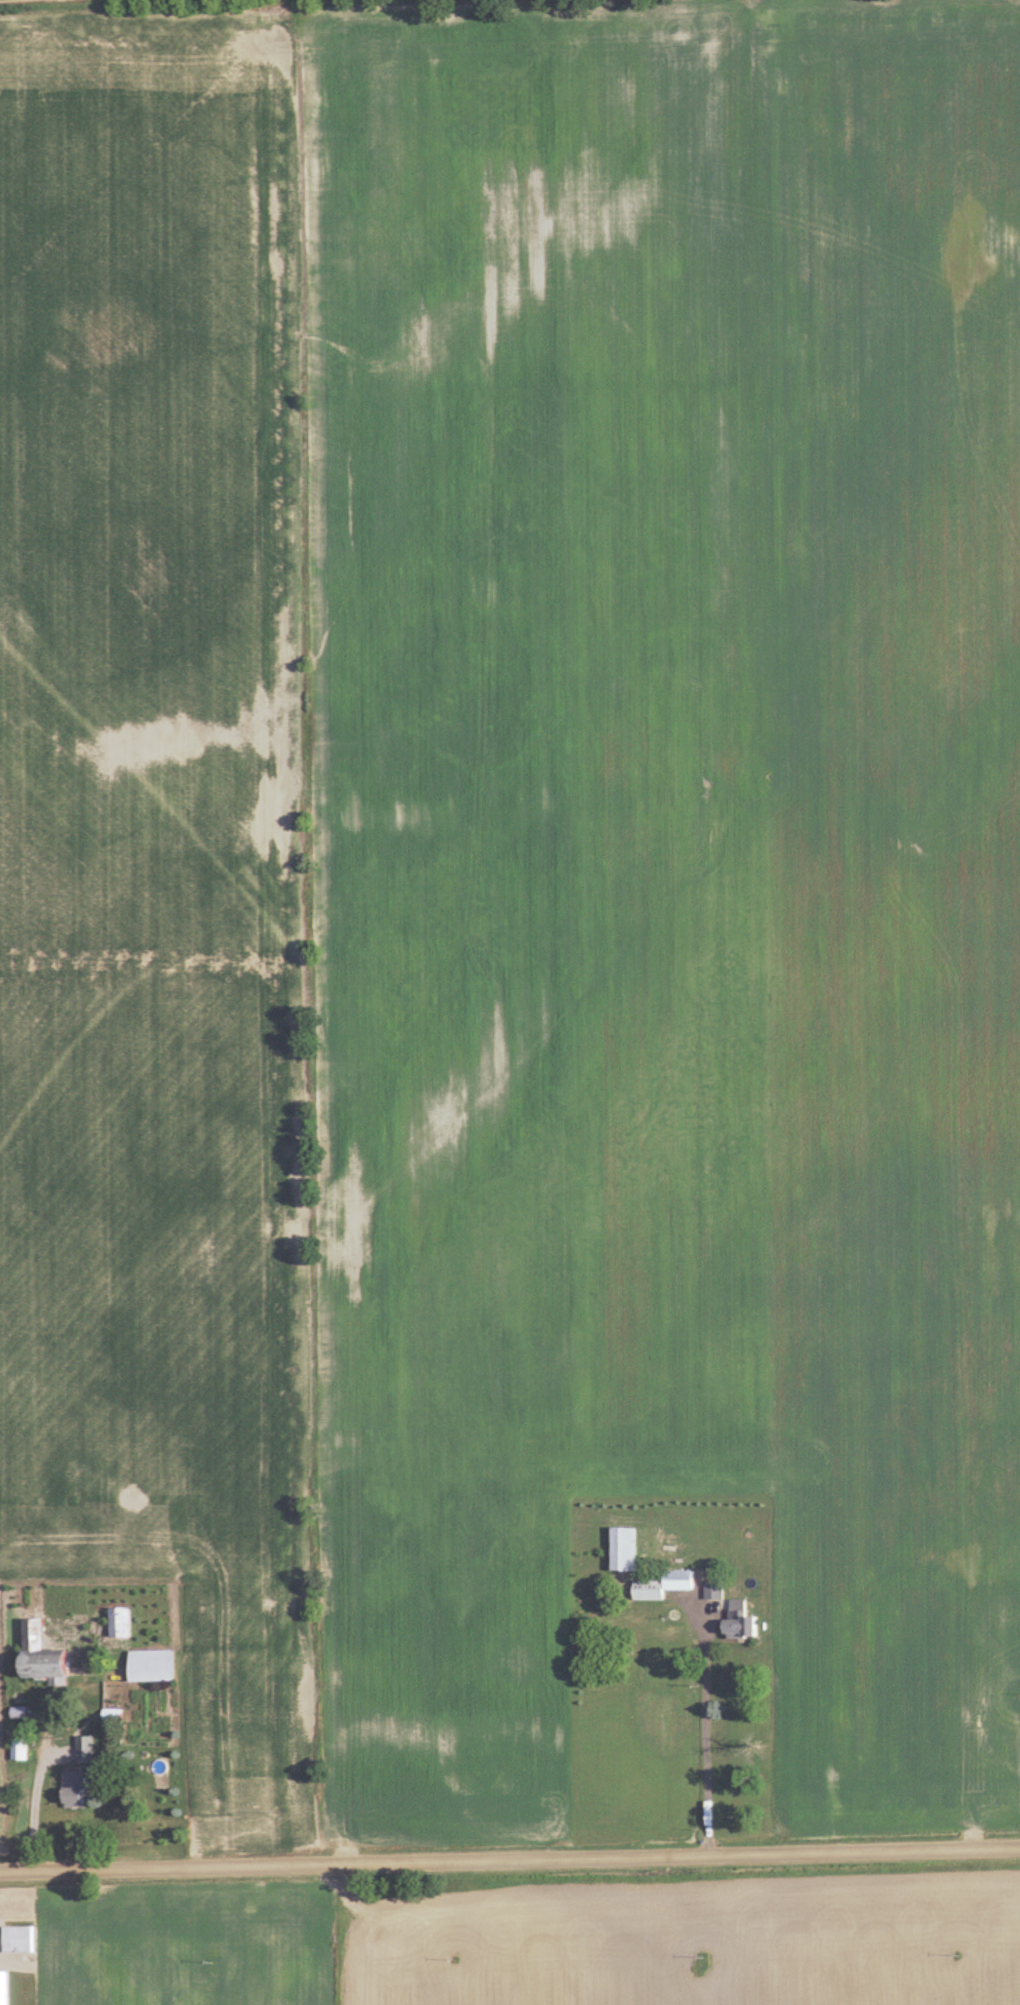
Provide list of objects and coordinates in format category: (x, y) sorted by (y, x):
building: (623, 1550)
building: (665, 1586)
building: (716, 1591)
building: (742, 1622)
building: (123, 1624)
building: (663, 1656)
building: (45, 1657)
building: (153, 1667)
building: (21, 1713)
road: (702, 1742)
building: (21, 1747)
building: (88, 1750)
building: (76, 1789)
road: (29, 1803)
road: (509, 1860)
building: (20, 1940)
building: (4, 1988)

